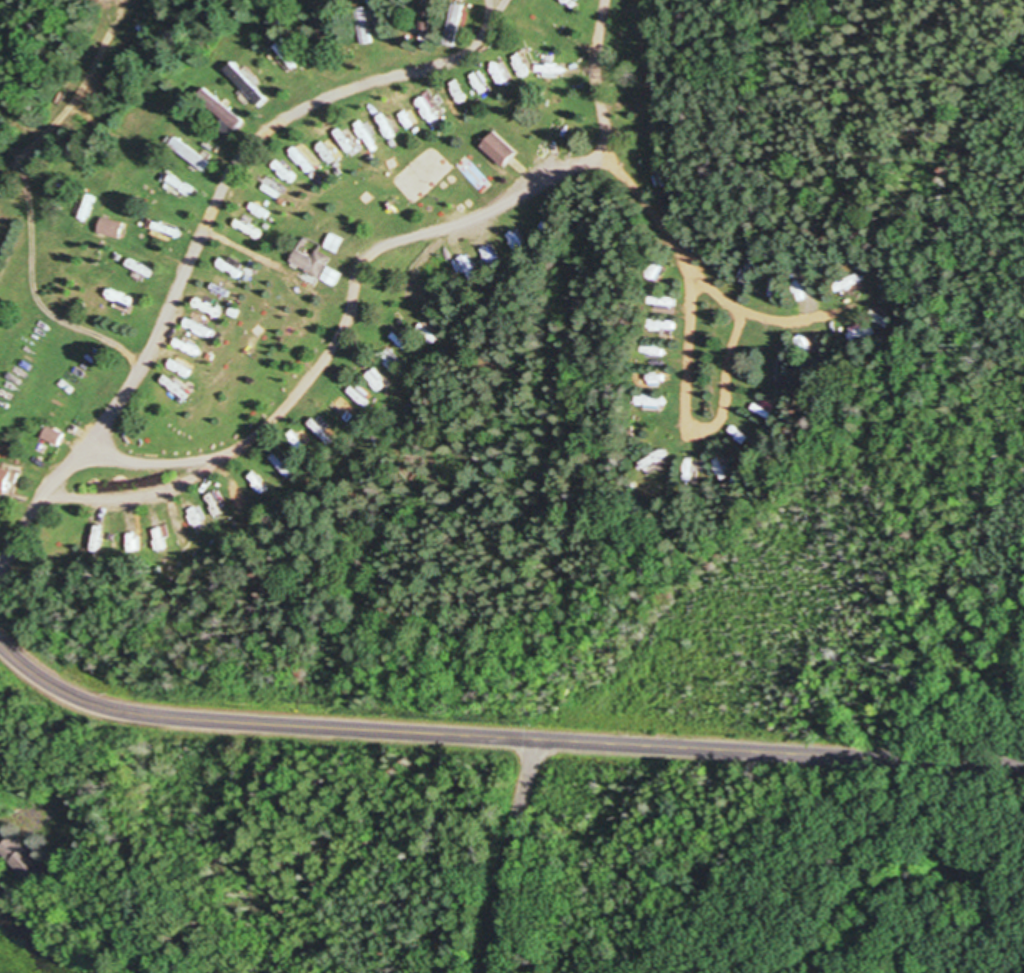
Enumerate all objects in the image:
building: (426, 23)
building: (453, 25)
building: (364, 27)
building: (520, 64)
building: (246, 85)
building: (456, 92)
building: (219, 110)
building: (387, 130)
building: (497, 149)
building: (190, 155)
building: (304, 161)
building: (283, 174)
building: (664, 184)
building: (273, 191)
building: (87, 208)
building: (110, 228)
building: (333, 243)
building: (310, 262)
building: (230, 269)
building: (655, 270)
building: (331, 277)
building: (801, 283)
building: (222, 286)
building: (850, 286)
building: (126, 301)
building: (652, 403)
building: (52, 436)
building: (284, 465)
building: (691, 468)
building: (7, 483)
building: (94, 540)
road: (501, 737)
road: (511, 855)
building: (20, 858)

